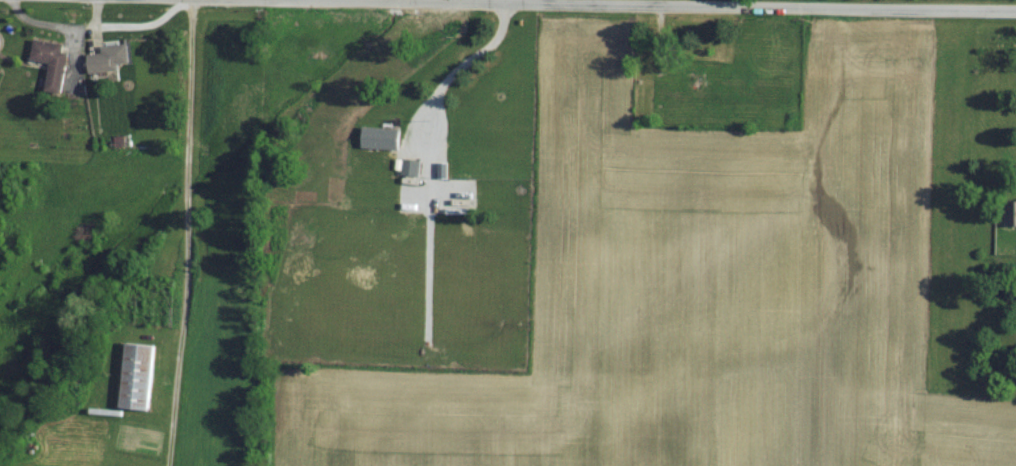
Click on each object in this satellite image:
road: (623, 5)
building: (113, 58)
building: (56, 62)
building: (685, 70)
road: (432, 99)
building: (382, 137)
building: (412, 167)
building: (1012, 212)
road: (183, 233)
building: (139, 376)

